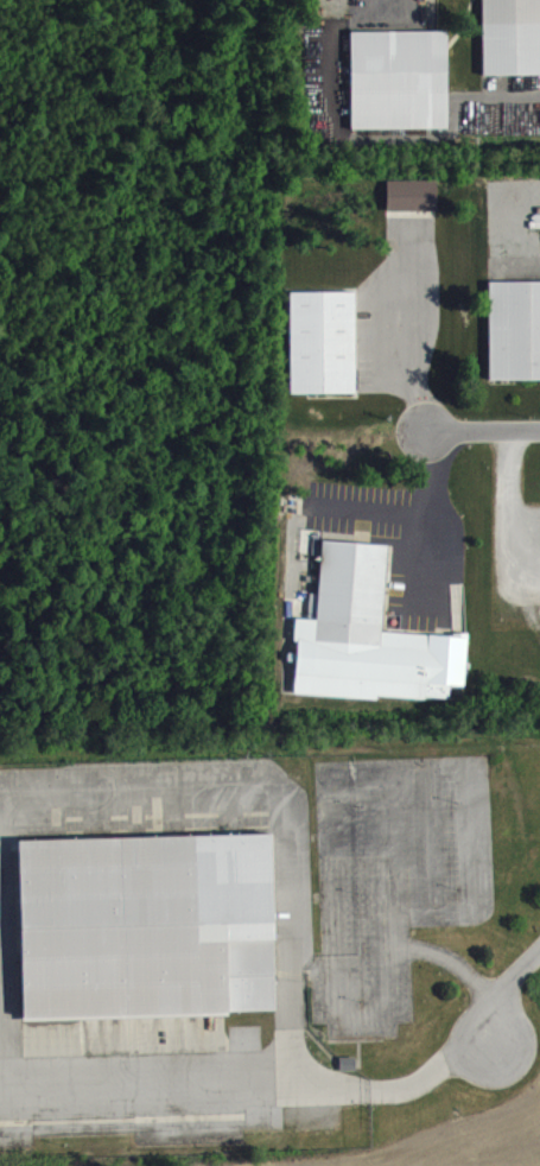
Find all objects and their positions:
road: (409, 7)
building: (509, 36)
building: (396, 77)
building: (412, 205)
building: (513, 328)
building: (319, 341)
road: (415, 348)
road: (485, 432)
road: (514, 505)
road: (430, 507)
building: (370, 623)
building: (141, 925)
road: (506, 987)

